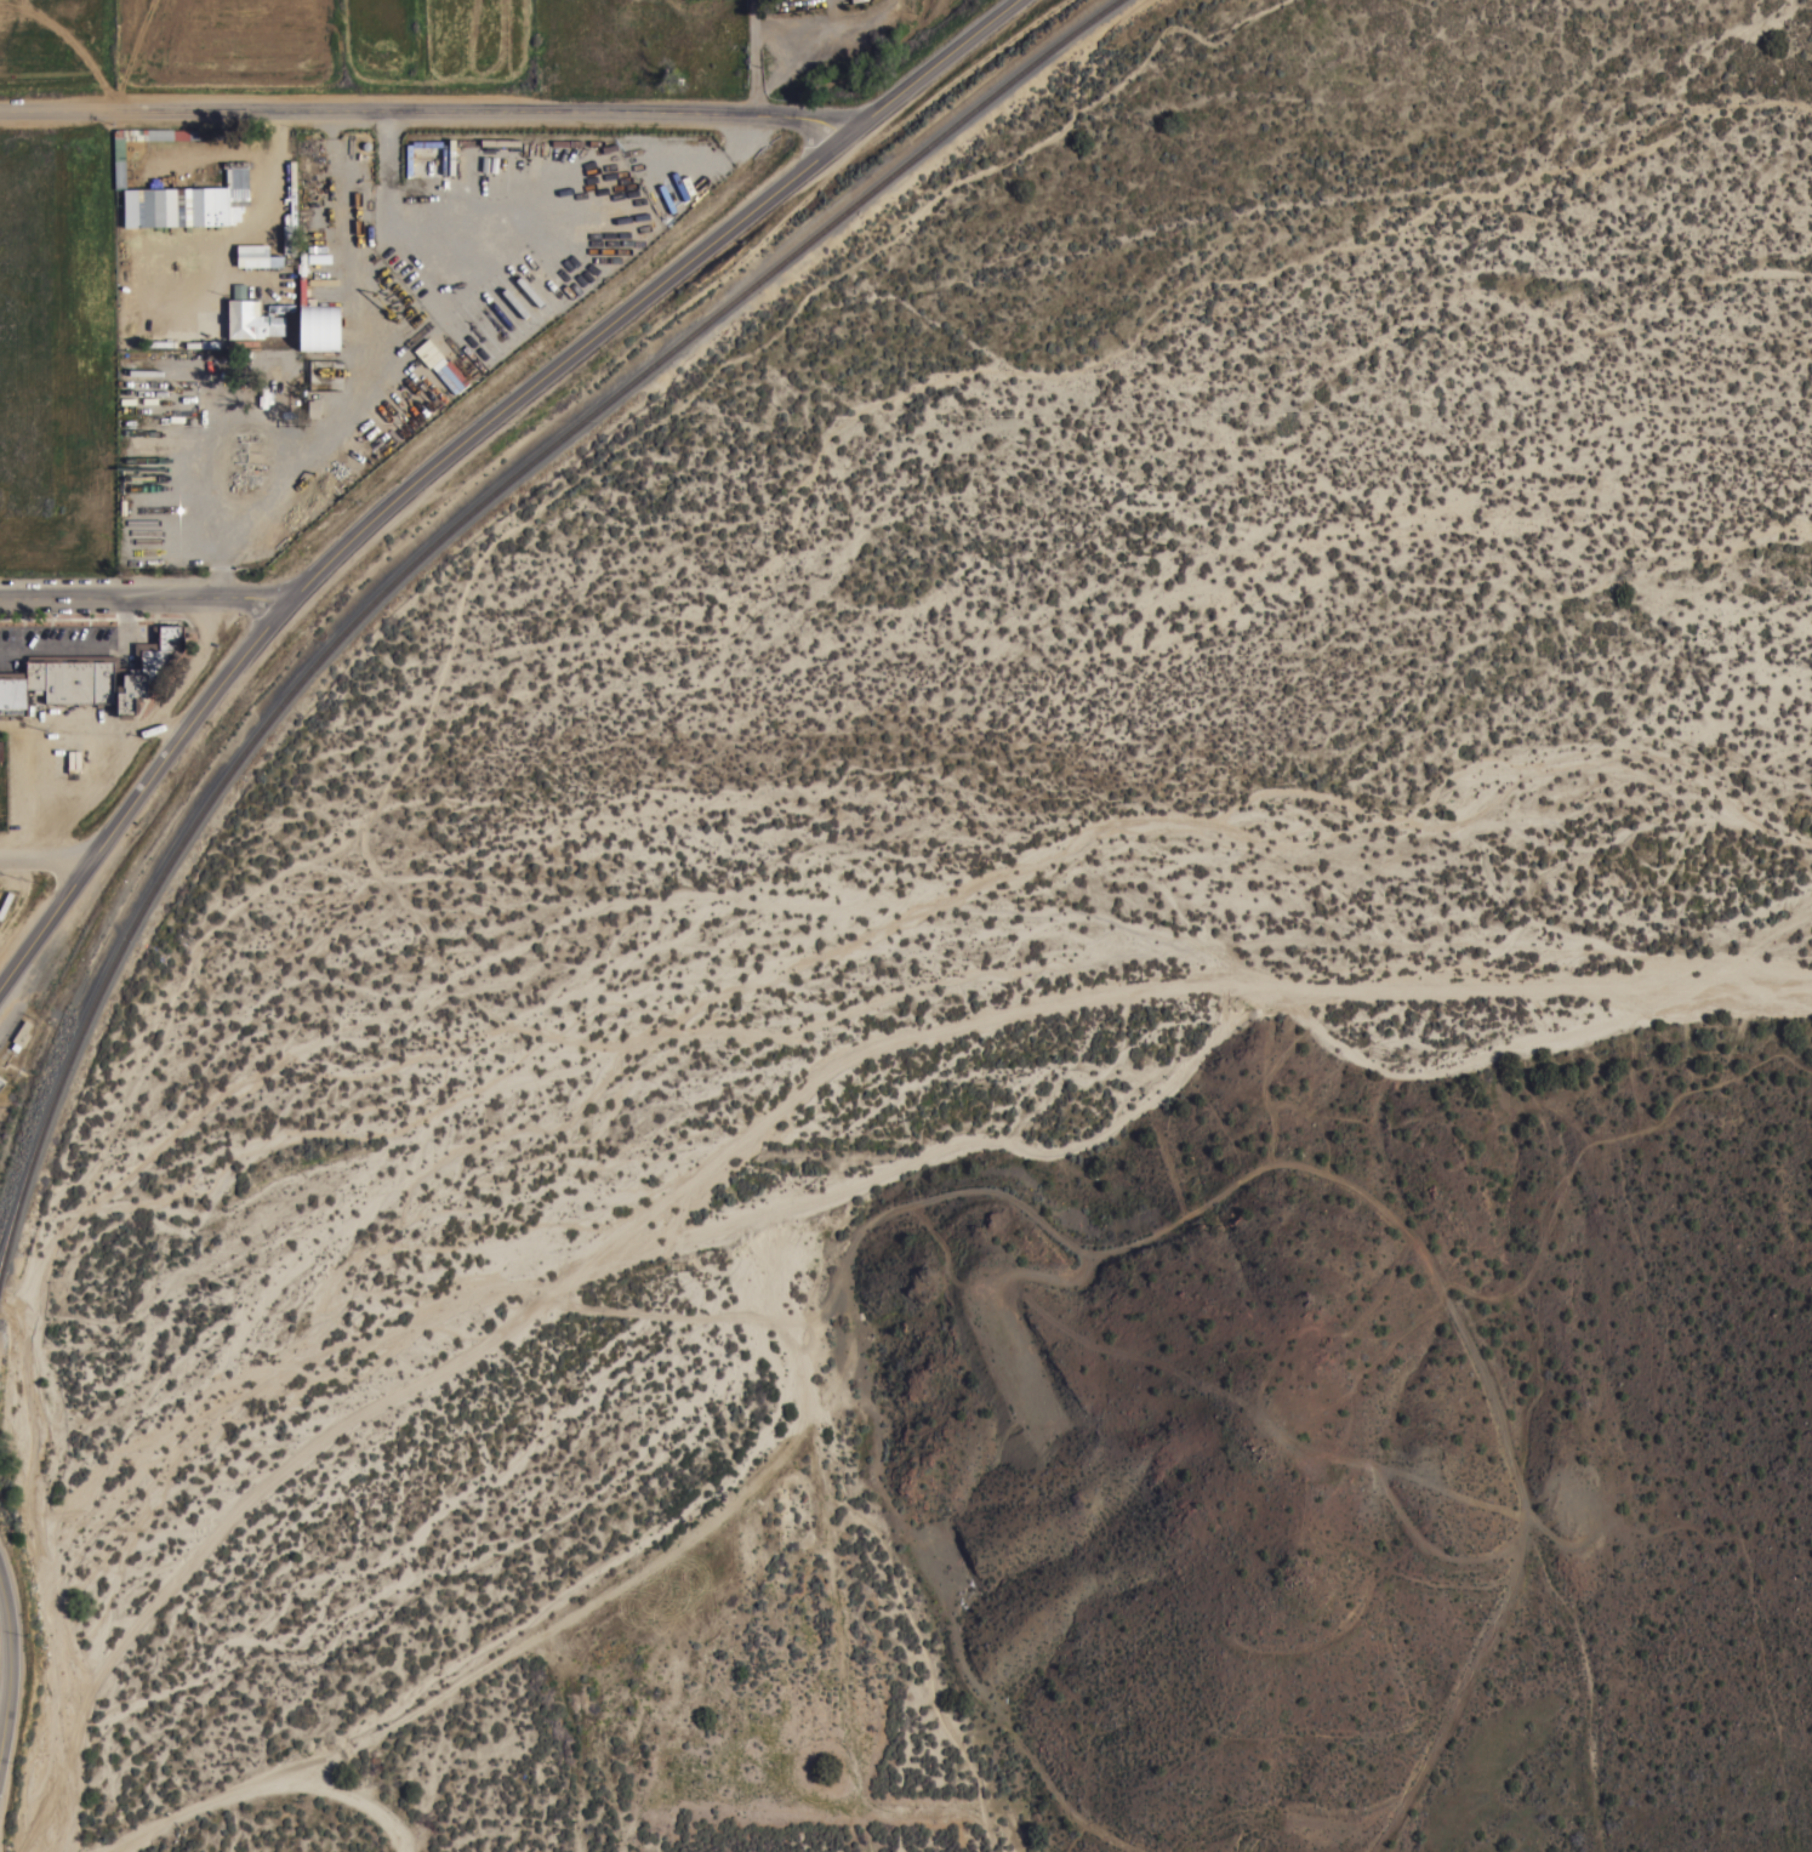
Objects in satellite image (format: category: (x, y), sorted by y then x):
road: (751, 56)
road: (420, 113)
building: (119, 172)
building: (195, 200)
road: (247, 223)
building: (290, 227)
building: (255, 258)
building: (249, 291)
building: (250, 320)
building: (320, 326)
road: (458, 441)
building: (137, 452)
railway: (443, 538)
road: (146, 592)
road: (85, 644)
building: (92, 674)
road: (41, 723)
road: (41, 857)
building: (22, 1032)
building: (1, 1082)
railway: (1, 1270)
road: (6, 1651)
road: (256, 1787)

